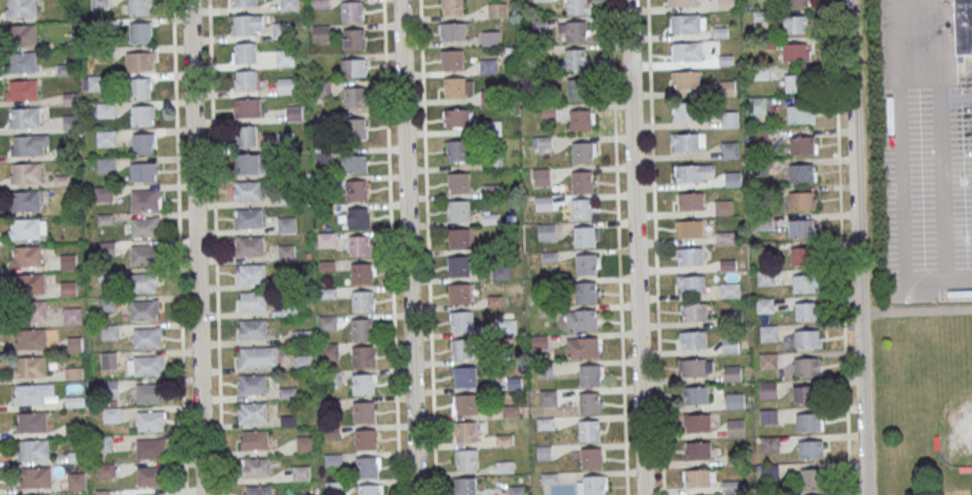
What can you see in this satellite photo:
building: (683, 2)
building: (797, 2)
building: (243, 3)
building: (725, 4)
building: (288, 5)
building: (141, 7)
building: (452, 7)
building: (577, 7)
building: (21, 8)
building: (497, 10)
building: (353, 11)
building: (686, 23)
building: (247, 24)
building: (796, 24)
building: (962, 27)
building: (279, 30)
building: (452, 31)
building: (576, 31)
building: (140, 32)
building: (320, 33)
building: (21, 34)
building: (354, 38)
building: (491, 38)
building: (686, 51)
building: (244, 52)
building: (794, 52)
building: (284, 57)
building: (452, 59)
building: (576, 59)
building: (139, 61)
building: (20, 62)
building: (489, 65)
building: (353, 67)
building: (686, 78)
building: (246, 80)
building: (92, 83)
building: (796, 83)
building: (286, 85)
building: (140, 87)
building: (454, 87)
building: (321, 88)
building: (578, 89)
building: (22, 90)
building: (354, 97)
building: (758, 105)
building: (247, 107)
building: (685, 110)
building: (294, 113)
building: (549, 113)
building: (801, 114)
building: (142, 115)
building: (25, 117)
building: (456, 117)
building: (730, 118)
building: (580, 120)
building: (358, 129)
building: (247, 135)
building: (759, 135)
building: (106, 138)
building: (685, 141)
building: (143, 143)
building: (802, 144)
building: (27, 145)
building: (458, 150)
building: (730, 150)
building: (583, 152)
road: (853, 152)
building: (323, 154)
building: (252, 163)
building: (355, 163)
building: (106, 165)
building: (143, 171)
building: (26, 172)
building: (802, 172)
building: (693, 173)
road: (904, 174)
building: (542, 177)
building: (582, 181)
building: (459, 182)
building: (246, 190)
building: (356, 190)
parking lot: (928, 192)
building: (146, 199)
building: (802, 200)
building: (25, 201)
building: (689, 201)
building: (544, 203)
building: (582, 208)
building: (459, 210)
building: (248, 218)
building: (358, 218)
building: (287, 224)
building: (145, 226)
building: (800, 227)
building: (25, 228)
building: (689, 228)
building: (547, 231)
building: (584, 236)
building: (459, 238)
building: (326, 239)
building: (249, 245)
building: (360, 245)
road: (179, 247)
road: (196, 247)
road: (215, 247)
road: (391, 247)
road: (409, 247)
road: (427, 247)
road: (619, 247)
road: (635, 247)
road: (656, 247)
road: (842, 247)
building: (286, 252)
building: (144, 254)
building: (27, 255)
building: (689, 256)
building: (804, 256)
building: (587, 264)
building: (459, 266)
building: (500, 271)
building: (362, 273)
building: (251, 274)
building: (766, 279)
building: (143, 282)
building: (29, 283)
building: (807, 283)
building: (691, 284)
building: (731, 290)
building: (586, 292)
building: (459, 293)
building: (253, 301)
building: (363, 301)
building: (766, 305)
building: (144, 309)
building: (31, 310)
building: (694, 311)
building: (807, 311)
building: (72, 315)
building: (734, 316)
building: (586, 319)
building: (462, 321)
building: (328, 322)
building: (253, 328)
building: (362, 329)
building: (109, 330)
building: (769, 333)
building: (147, 337)
building: (807, 338)
building: (32, 339)
building: (693, 339)
building: (731, 344)
building: (583, 347)
building: (463, 348)
building: (258, 356)
building: (363, 356)
building: (769, 361)
building: (302, 362)
building: (146, 365)
building: (30, 366)
building: (807, 366)
building: (692, 367)
building: (732, 373)
building: (589, 375)
building: (465, 376)
building: (253, 384)
building: (363, 384)
building: (768, 390)
building: (148, 392)
building: (32, 393)
building: (807, 393)
building: (695, 394)
road: (862, 399)
park: (923, 399)
building: (734, 400)
park: (962, 401)
building: (591, 402)
building: (465, 404)
building: (364, 411)
building: (253, 412)
building: (111, 415)
building: (768, 416)
building: (151, 420)
building: (32, 421)
building: (810, 421)
building: (697, 422)
building: (735, 427)
building: (589, 430)
building: (465, 431)
building: (255, 439)
building: (365, 439)
building: (103, 443)
building: (305, 444)
building: (770, 444)
building: (151, 448)
building: (33, 449)
building: (811, 449)
building: (697, 450)
building: (544, 453)
building: (591, 458)
building: (466, 459)
building: (256, 467)
building: (366, 467)
building: (106, 470)
building: (770, 472)
building: (300, 473)
building: (150, 475)
building: (36, 477)
building: (697, 477)
building: (814, 477)
building: (77, 480)
building: (467, 485)
building: (594, 485)
building: (257, 489)
building: (369, 489)
building: (516, 489)
building: (40, 494)
building: (151, 494)
building: (815, 494)

